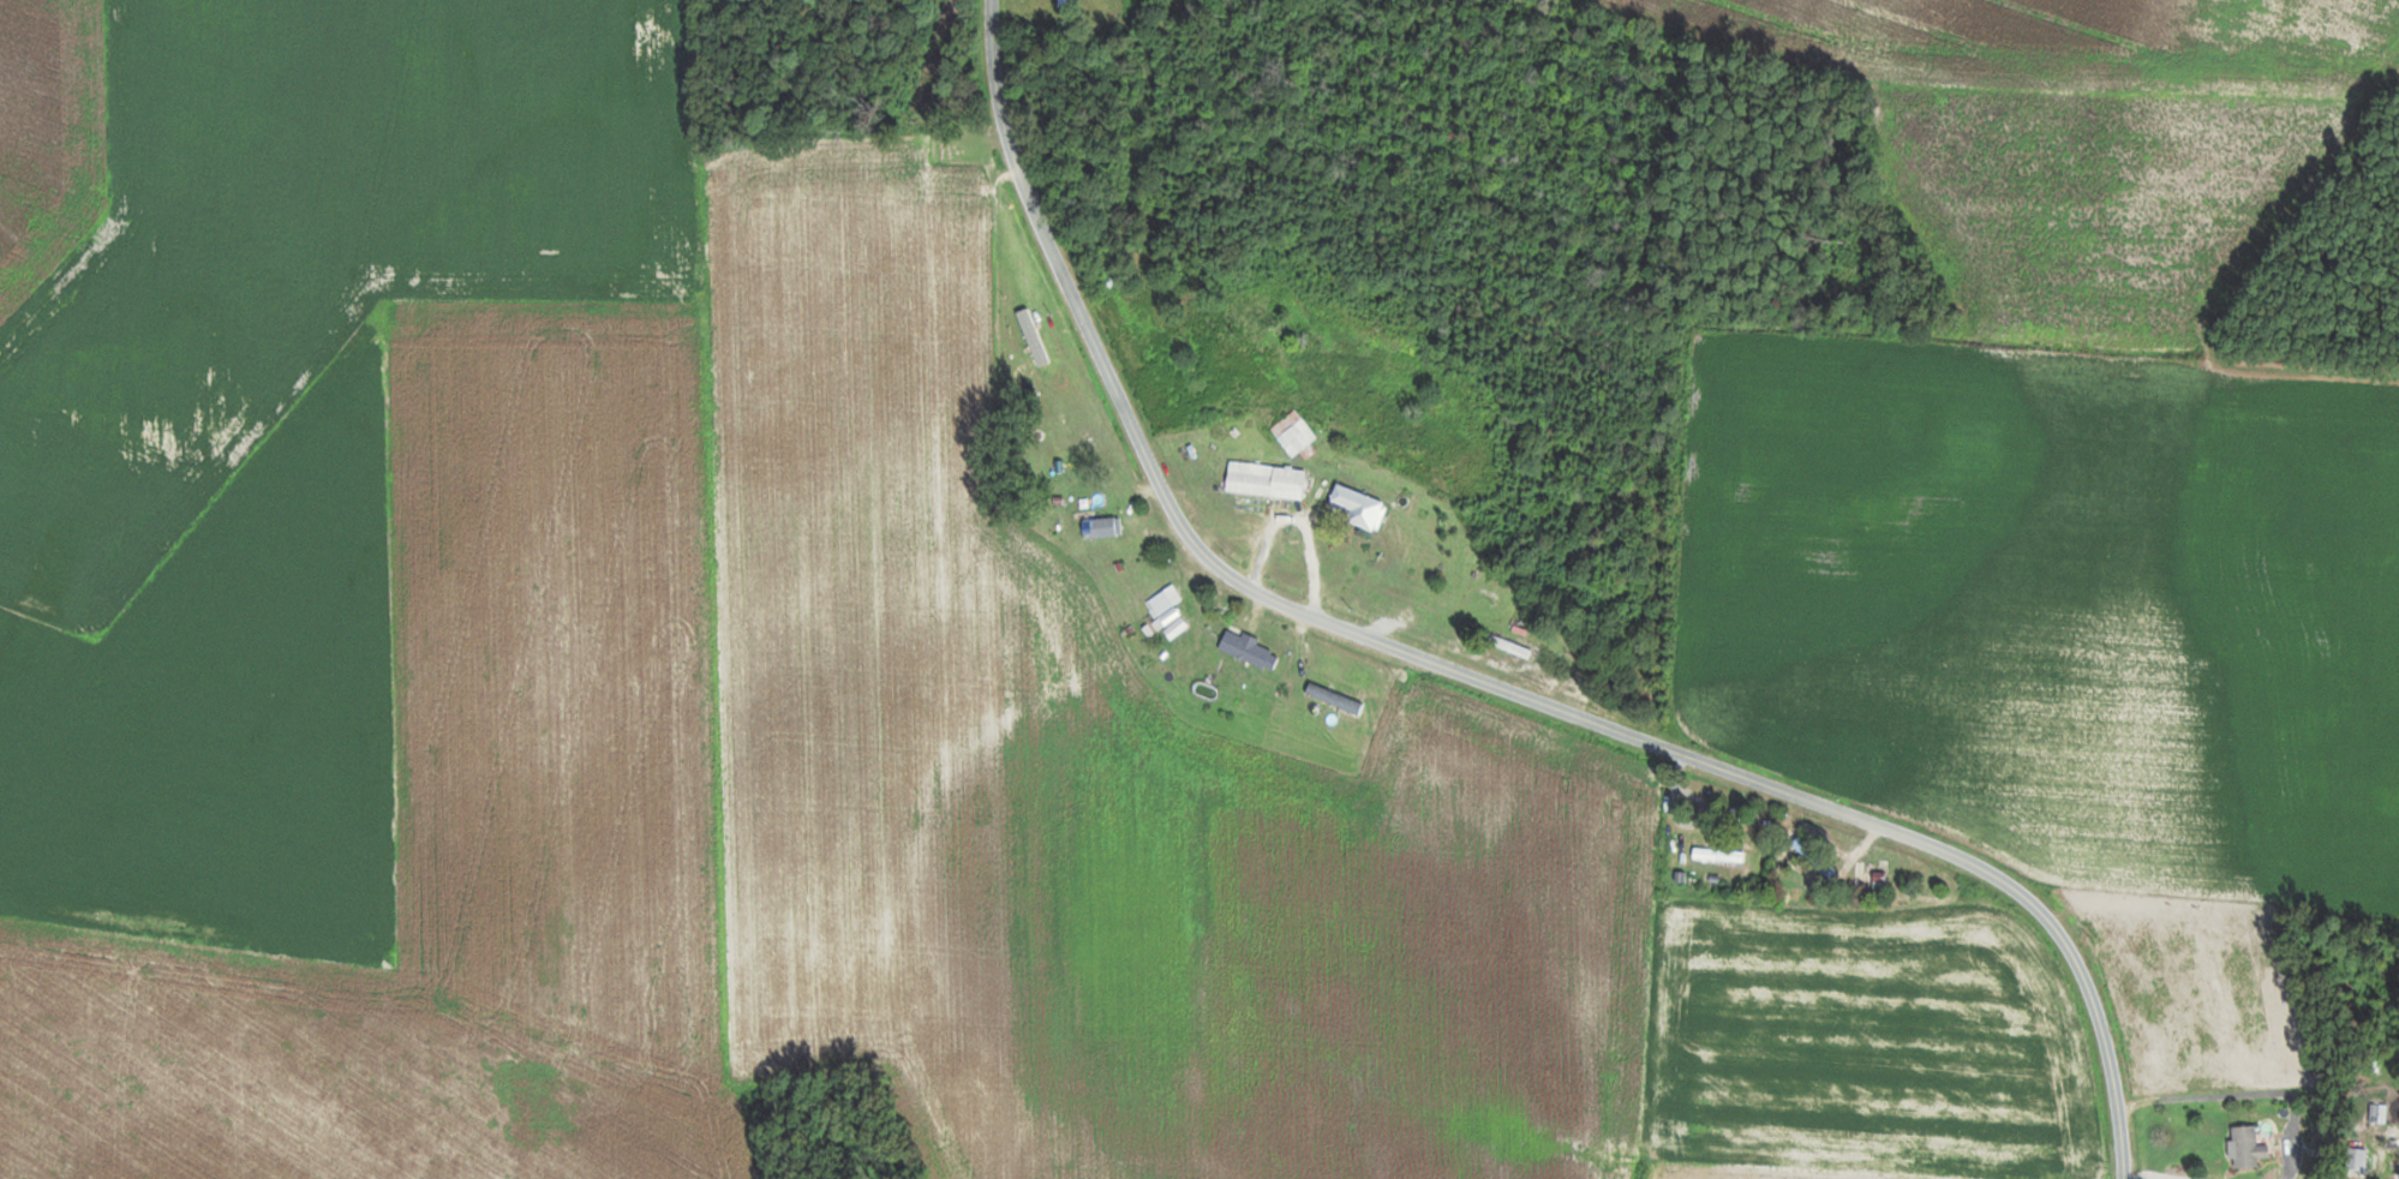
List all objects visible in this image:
building: (1070, 1)
crop: (2080, 42)
crop: (2106, 199)
building: (1296, 436)
building: (1267, 480)
building: (1362, 507)
building: (1102, 526)
building: (1165, 604)
crop: (2058, 608)
building: (1512, 646)
building: (1250, 650)
road: (1479, 675)
building: (1719, 855)
building: (1880, 880)
crop: (2206, 999)
building: (2379, 1113)
building: (2248, 1148)
building: (2359, 1159)

